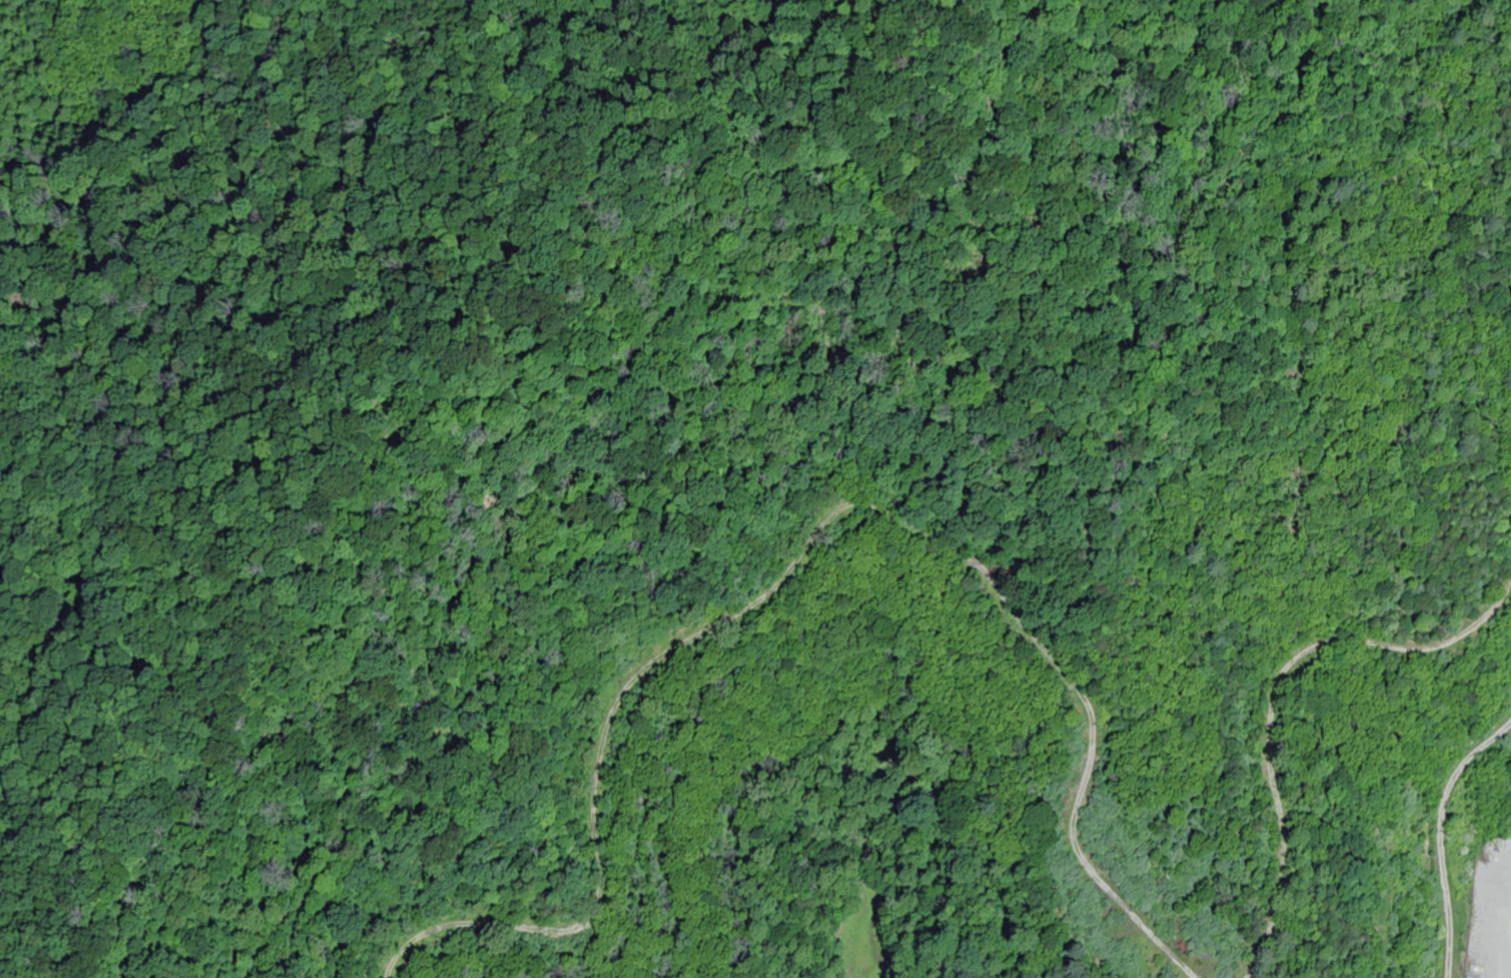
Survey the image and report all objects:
building: (1488, 884)

